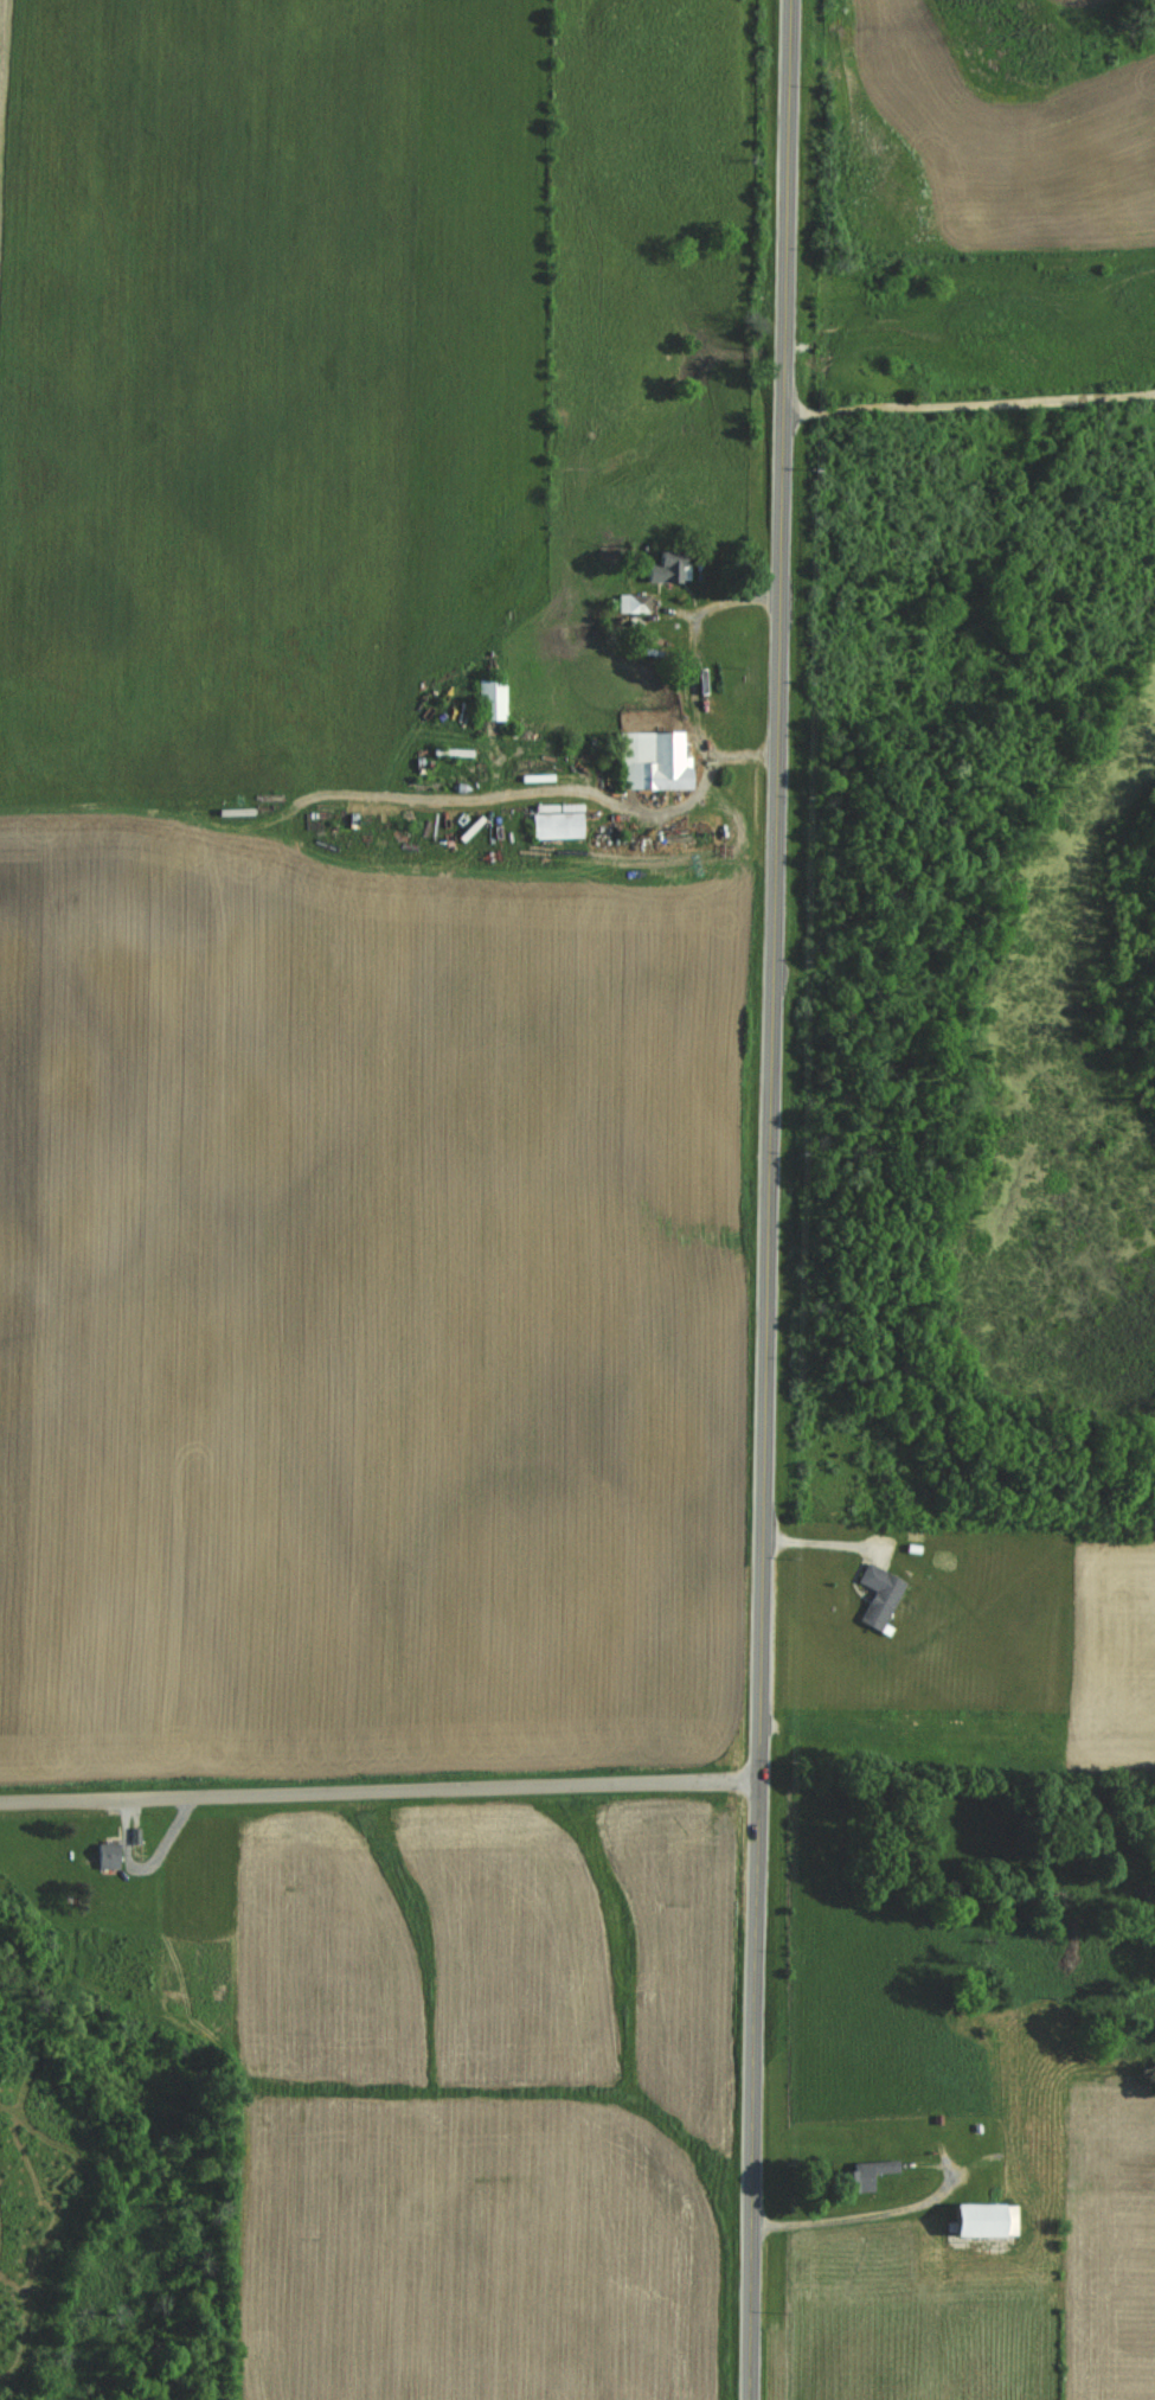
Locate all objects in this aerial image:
road: (969, 401)
building: (662, 569)
building: (637, 603)
road: (694, 677)
building: (490, 700)
building: (650, 761)
building: (556, 820)
road: (770, 1199)
building: (878, 1594)
road: (379, 1788)
building: (105, 1855)
building: (861, 2175)
road: (828, 2219)
building: (980, 2220)

